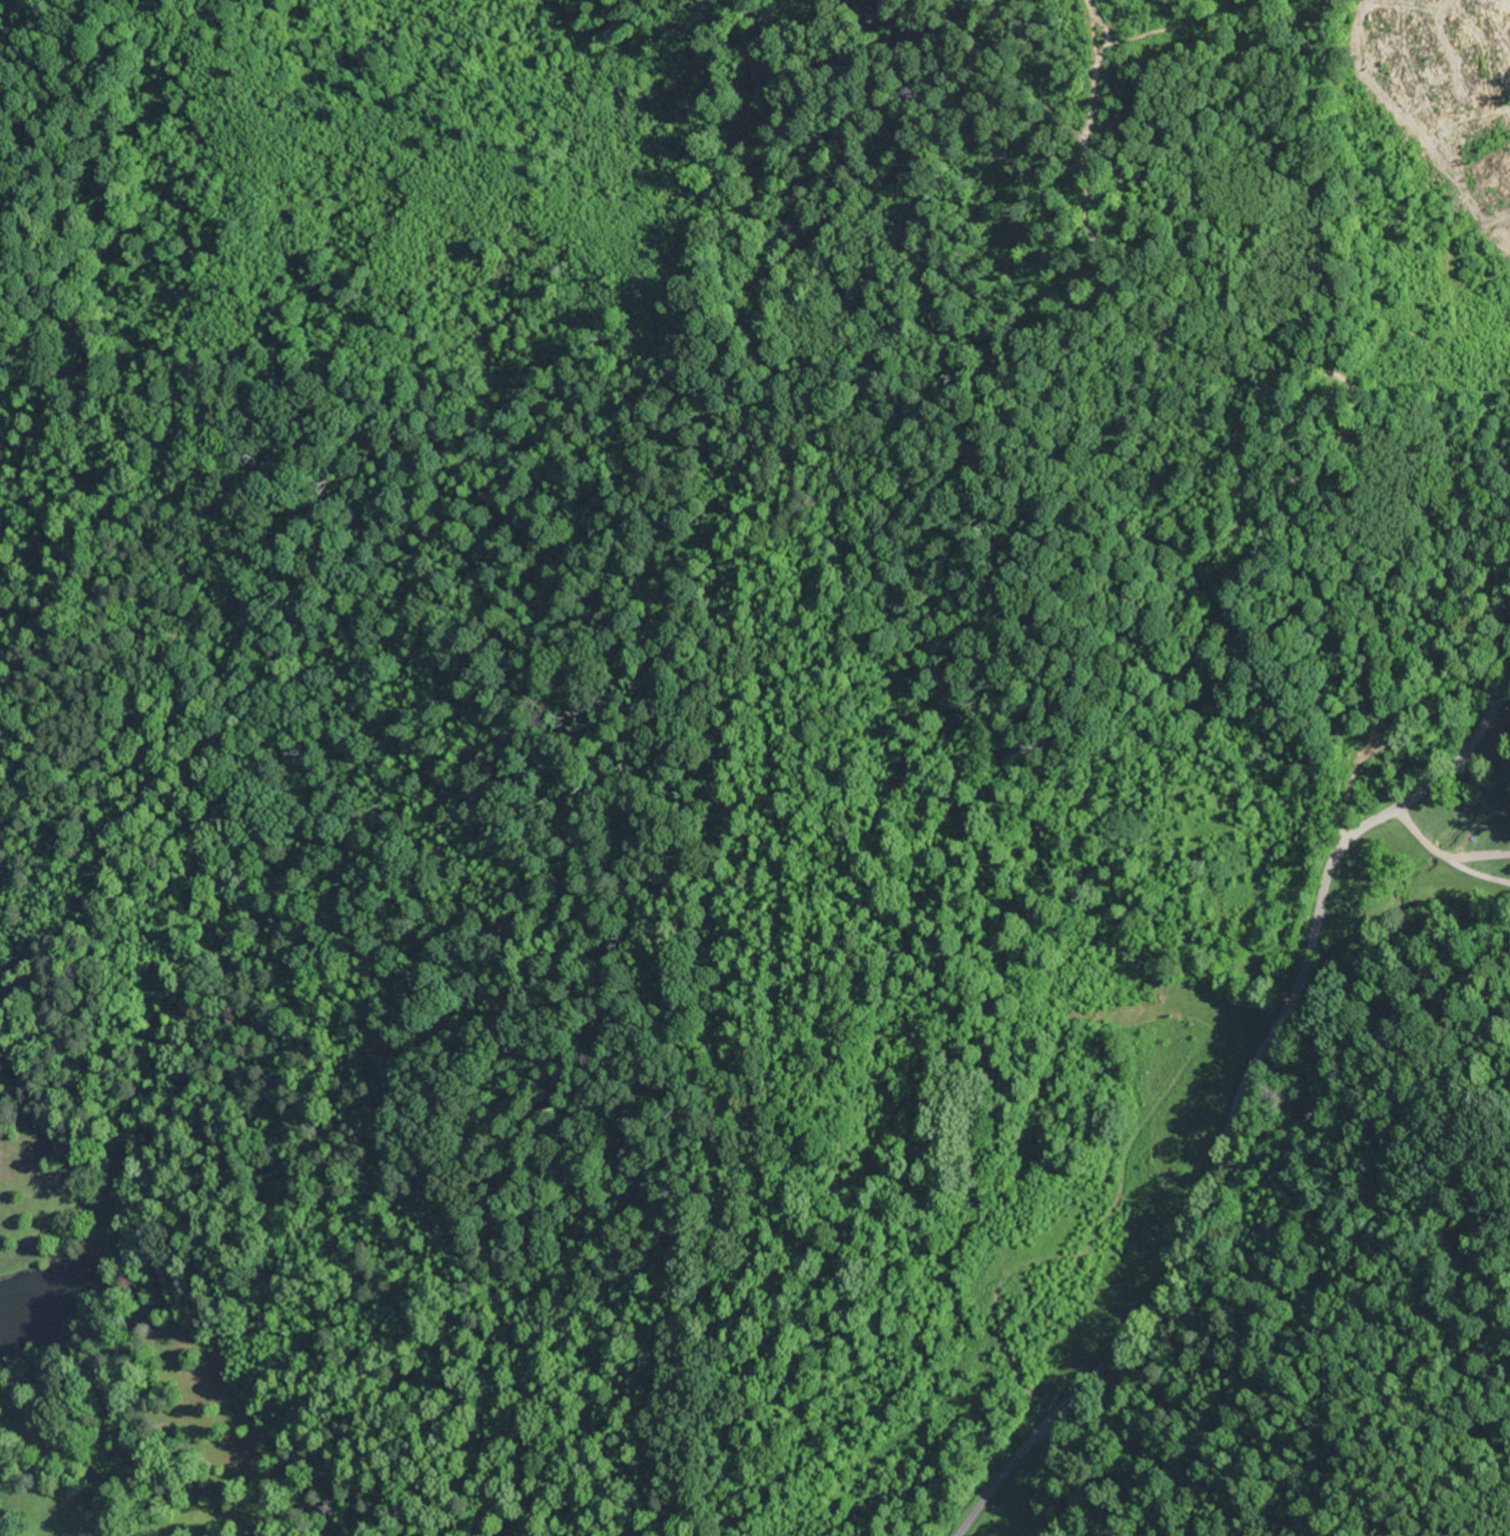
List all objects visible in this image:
road: (1236, 1105)

